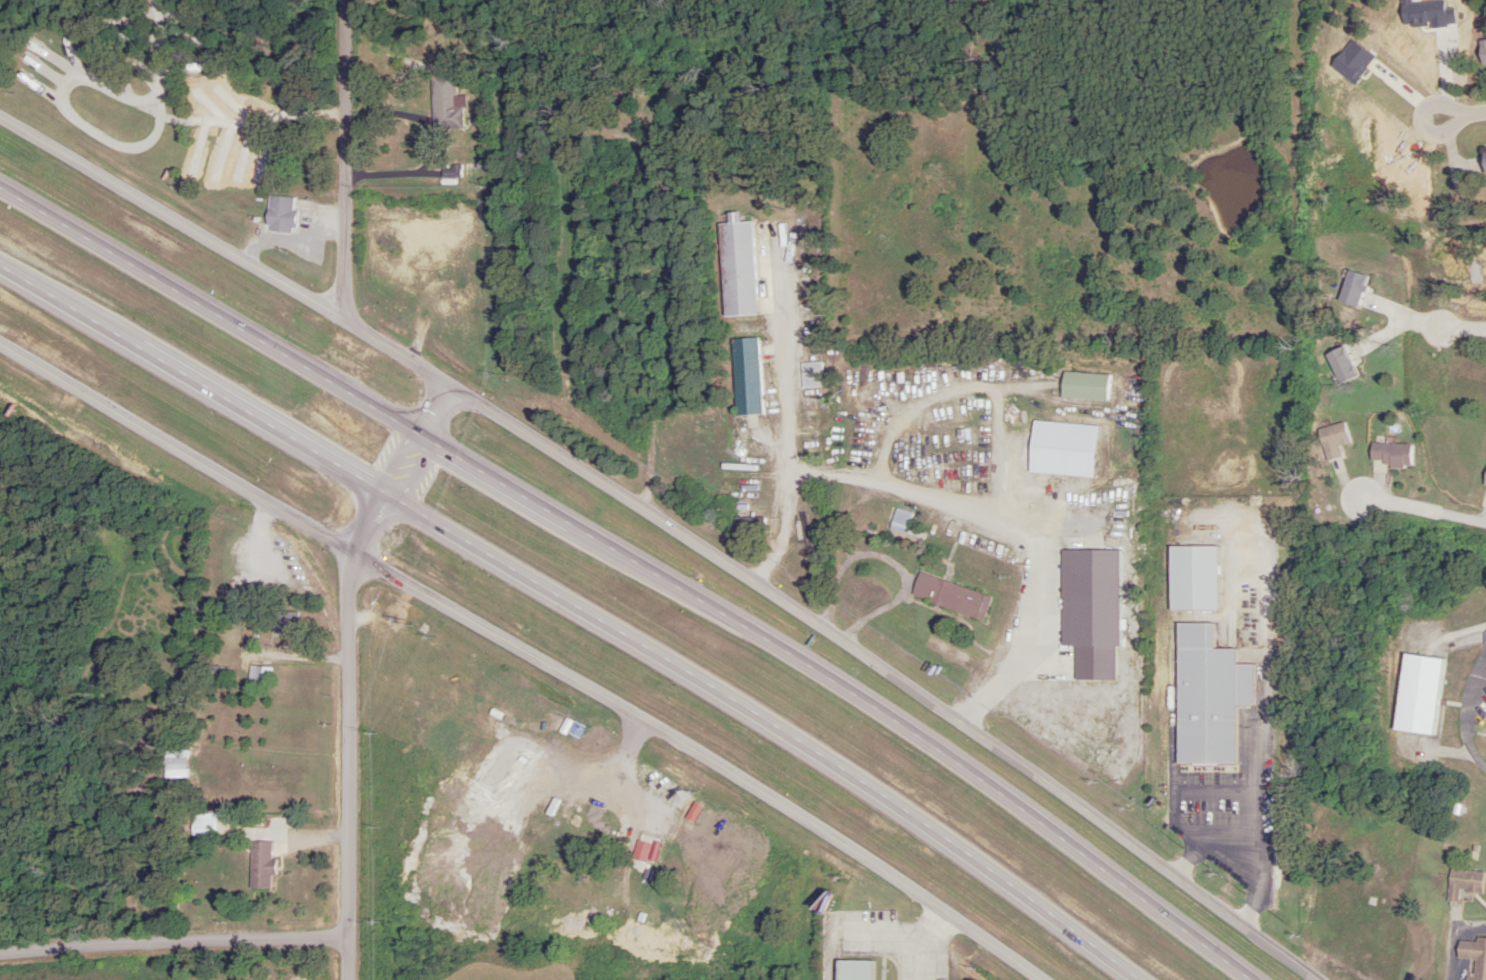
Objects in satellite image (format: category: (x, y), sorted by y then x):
road: (162, 48)
building: (637, 82)
building: (189, 100)
building: (444, 104)
road: (1464, 114)
road: (87, 137)
building: (231, 152)
building: (1483, 159)
road: (344, 160)
building: (279, 215)
building: (735, 267)
building: (984, 368)
building: (745, 376)
building: (1083, 386)
building: (889, 392)
road: (1220, 412)
building: (942, 427)
building: (941, 451)
building: (959, 493)
building: (1060, 505)
building: (899, 519)
road: (672, 526)
building: (748, 527)
building: (981, 547)
building: (1076, 556)
road: (638, 565)
building: (1078, 575)
building: (949, 596)
building: (1075, 600)
road: (578, 606)
building: (231, 612)
building: (282, 622)
road: (526, 652)
building: (1048, 656)
road: (349, 669)
building: (215, 673)
building: (257, 676)
building: (1415, 694)
road: (1468, 715)
building: (165, 818)
building: (201, 825)
road: (1232, 829)
building: (260, 865)
building: (1271, 876)
building: (1463, 882)
building: (1324, 901)
road: (1380, 911)
building: (1427, 915)
road: (1457, 938)
road: (174, 944)
building: (1473, 956)
building: (1380, 957)
building: (852, 970)

